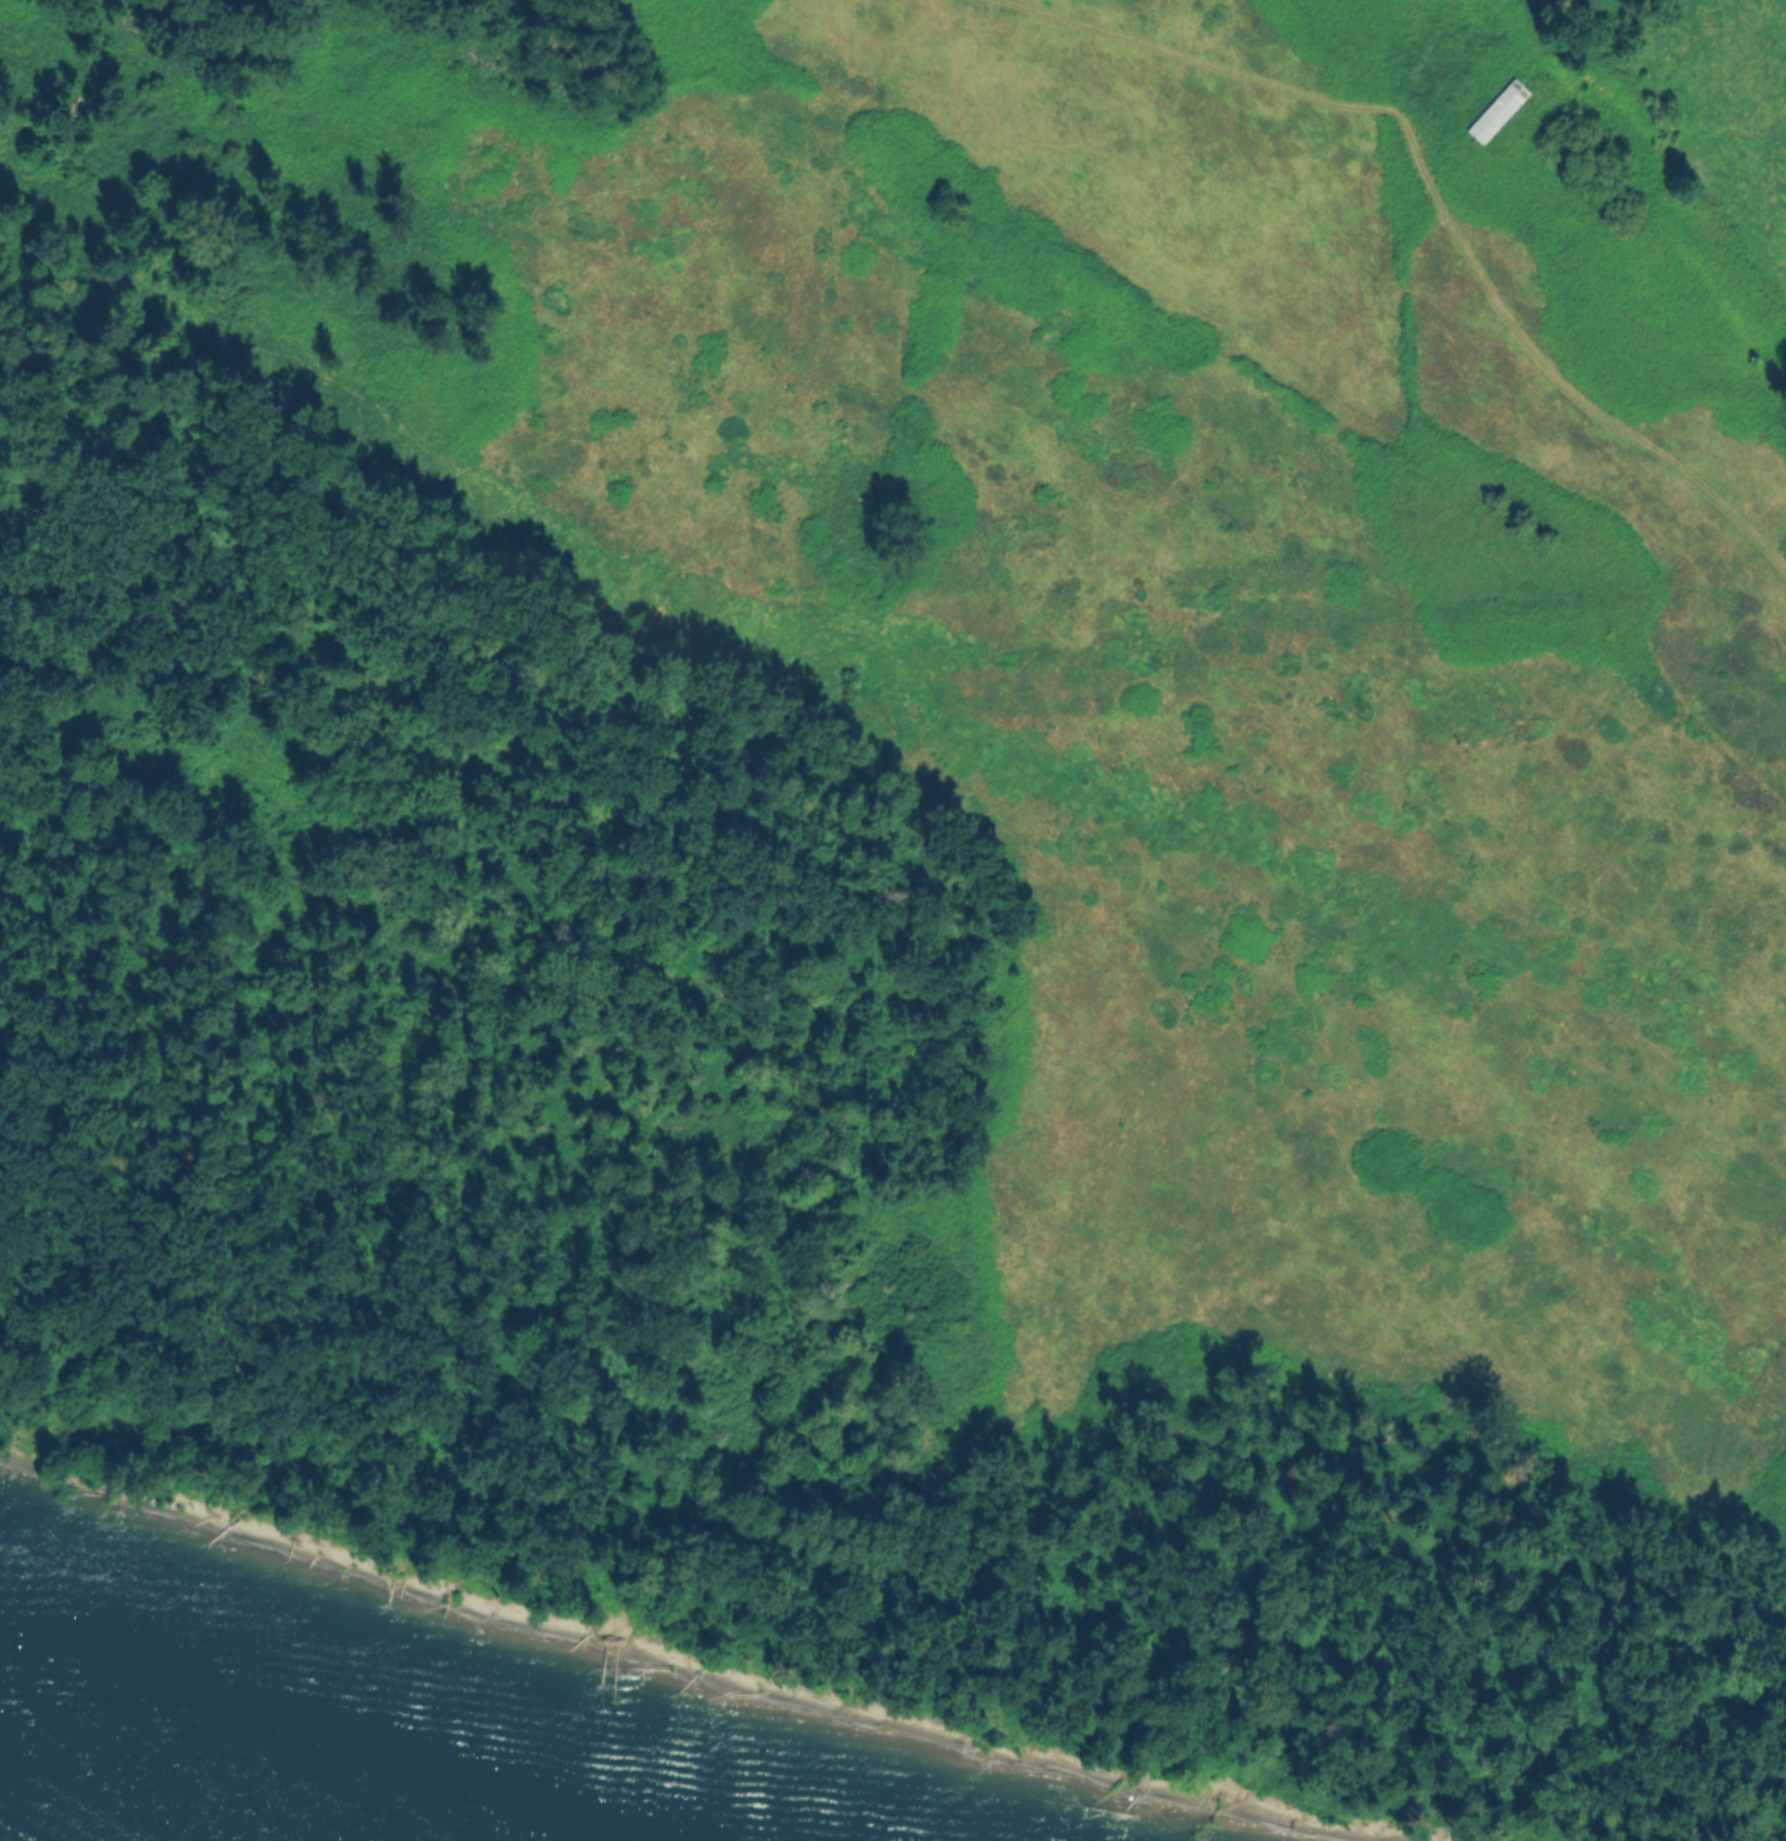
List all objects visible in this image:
building: (1497, 109)

